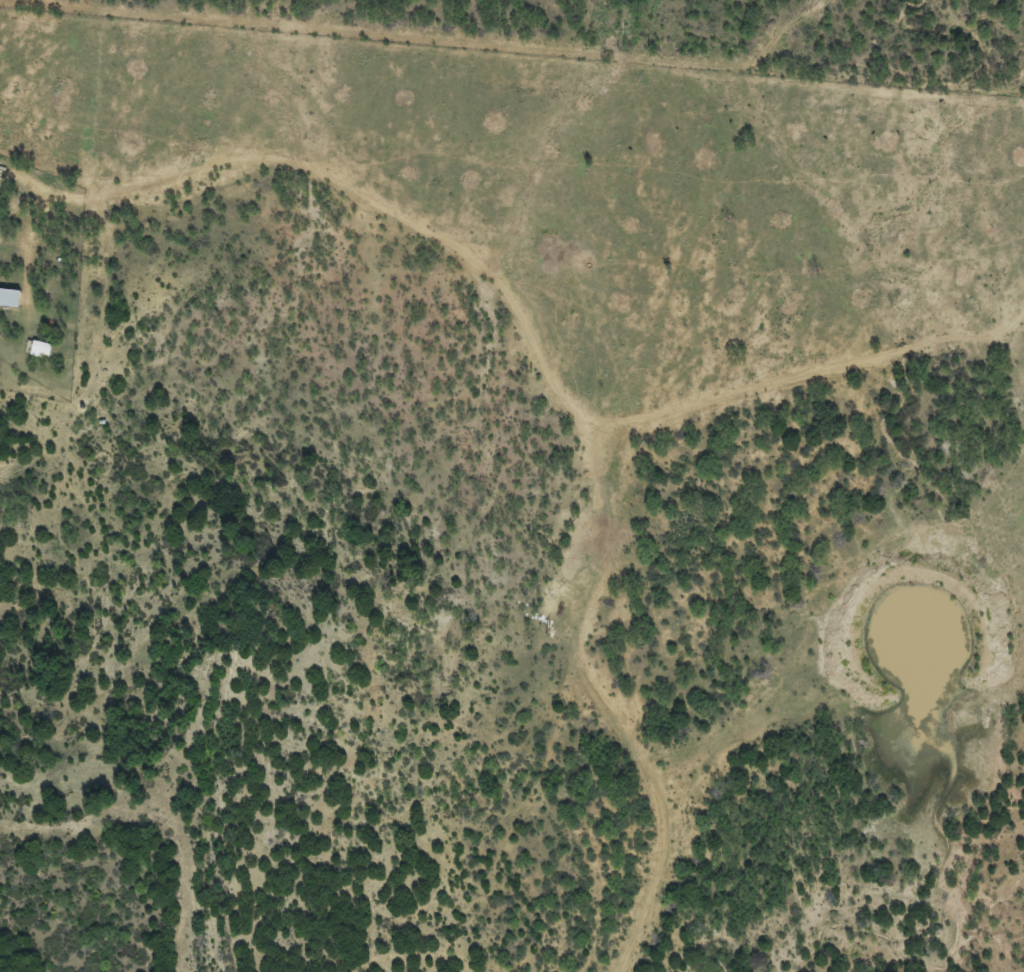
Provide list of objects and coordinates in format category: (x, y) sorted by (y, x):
road: (332, 209)
building: (10, 305)
building: (41, 357)
road: (621, 465)

